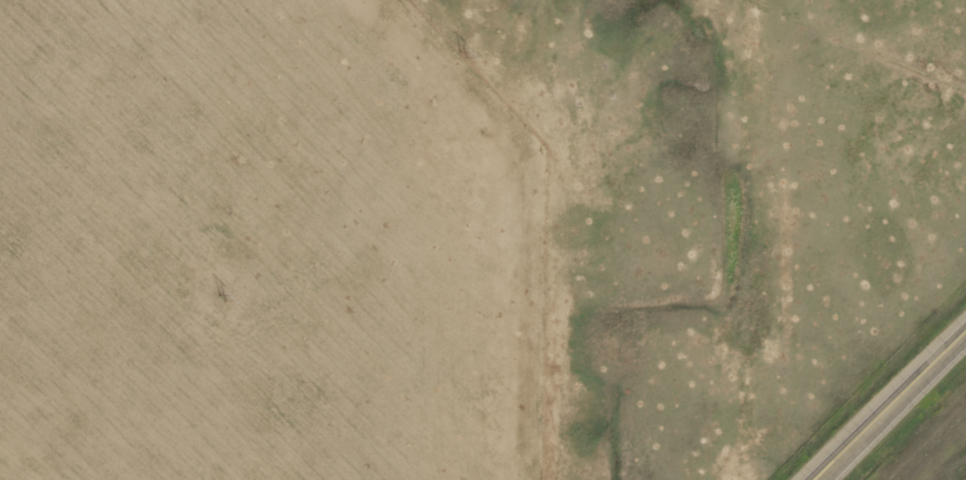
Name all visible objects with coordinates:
power tower: (462, 55)
power tower: (222, 299)
road: (895, 408)

